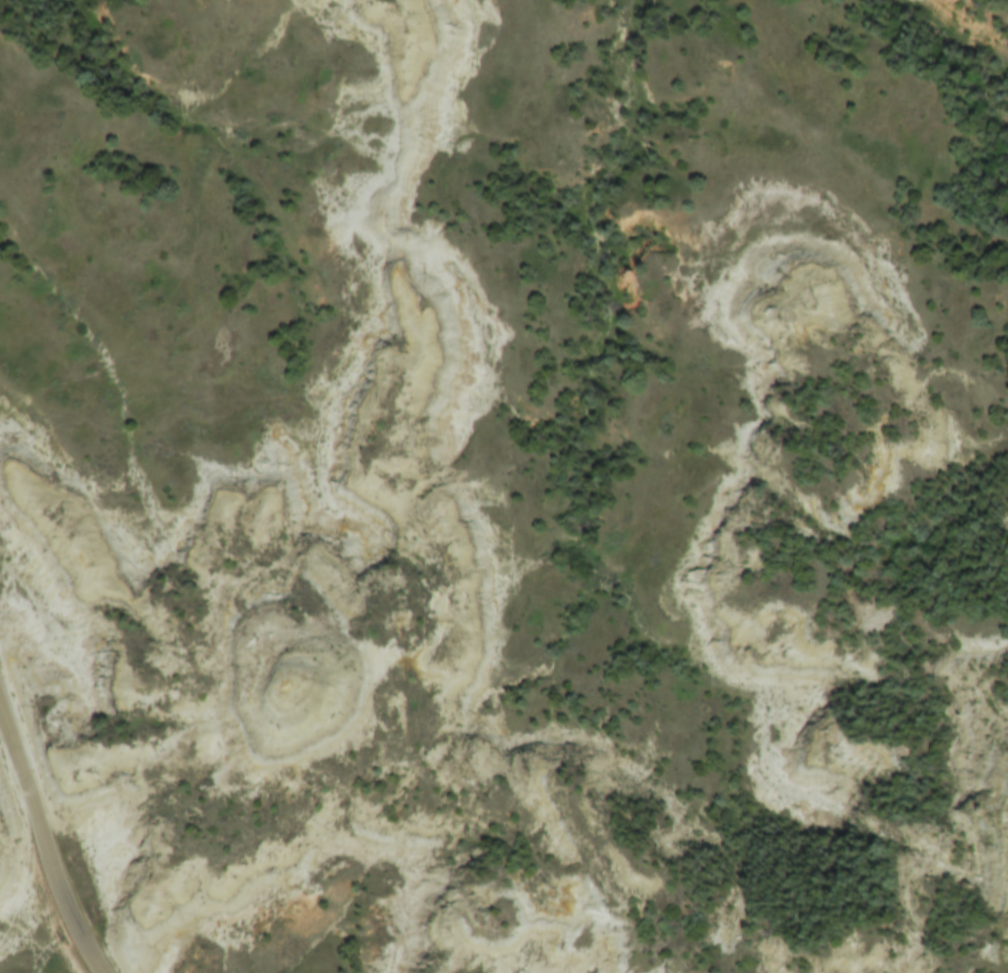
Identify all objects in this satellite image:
road: (45, 845)

